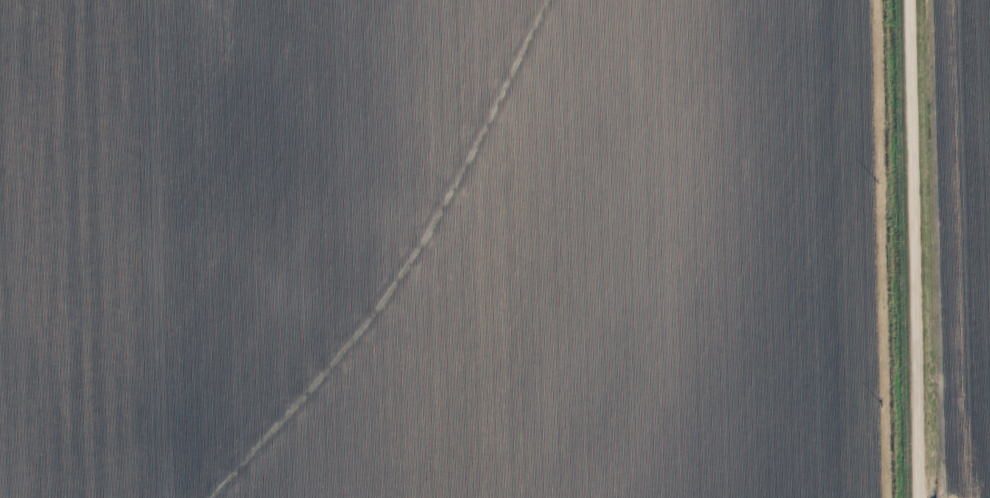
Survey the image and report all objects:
road: (913, 248)

